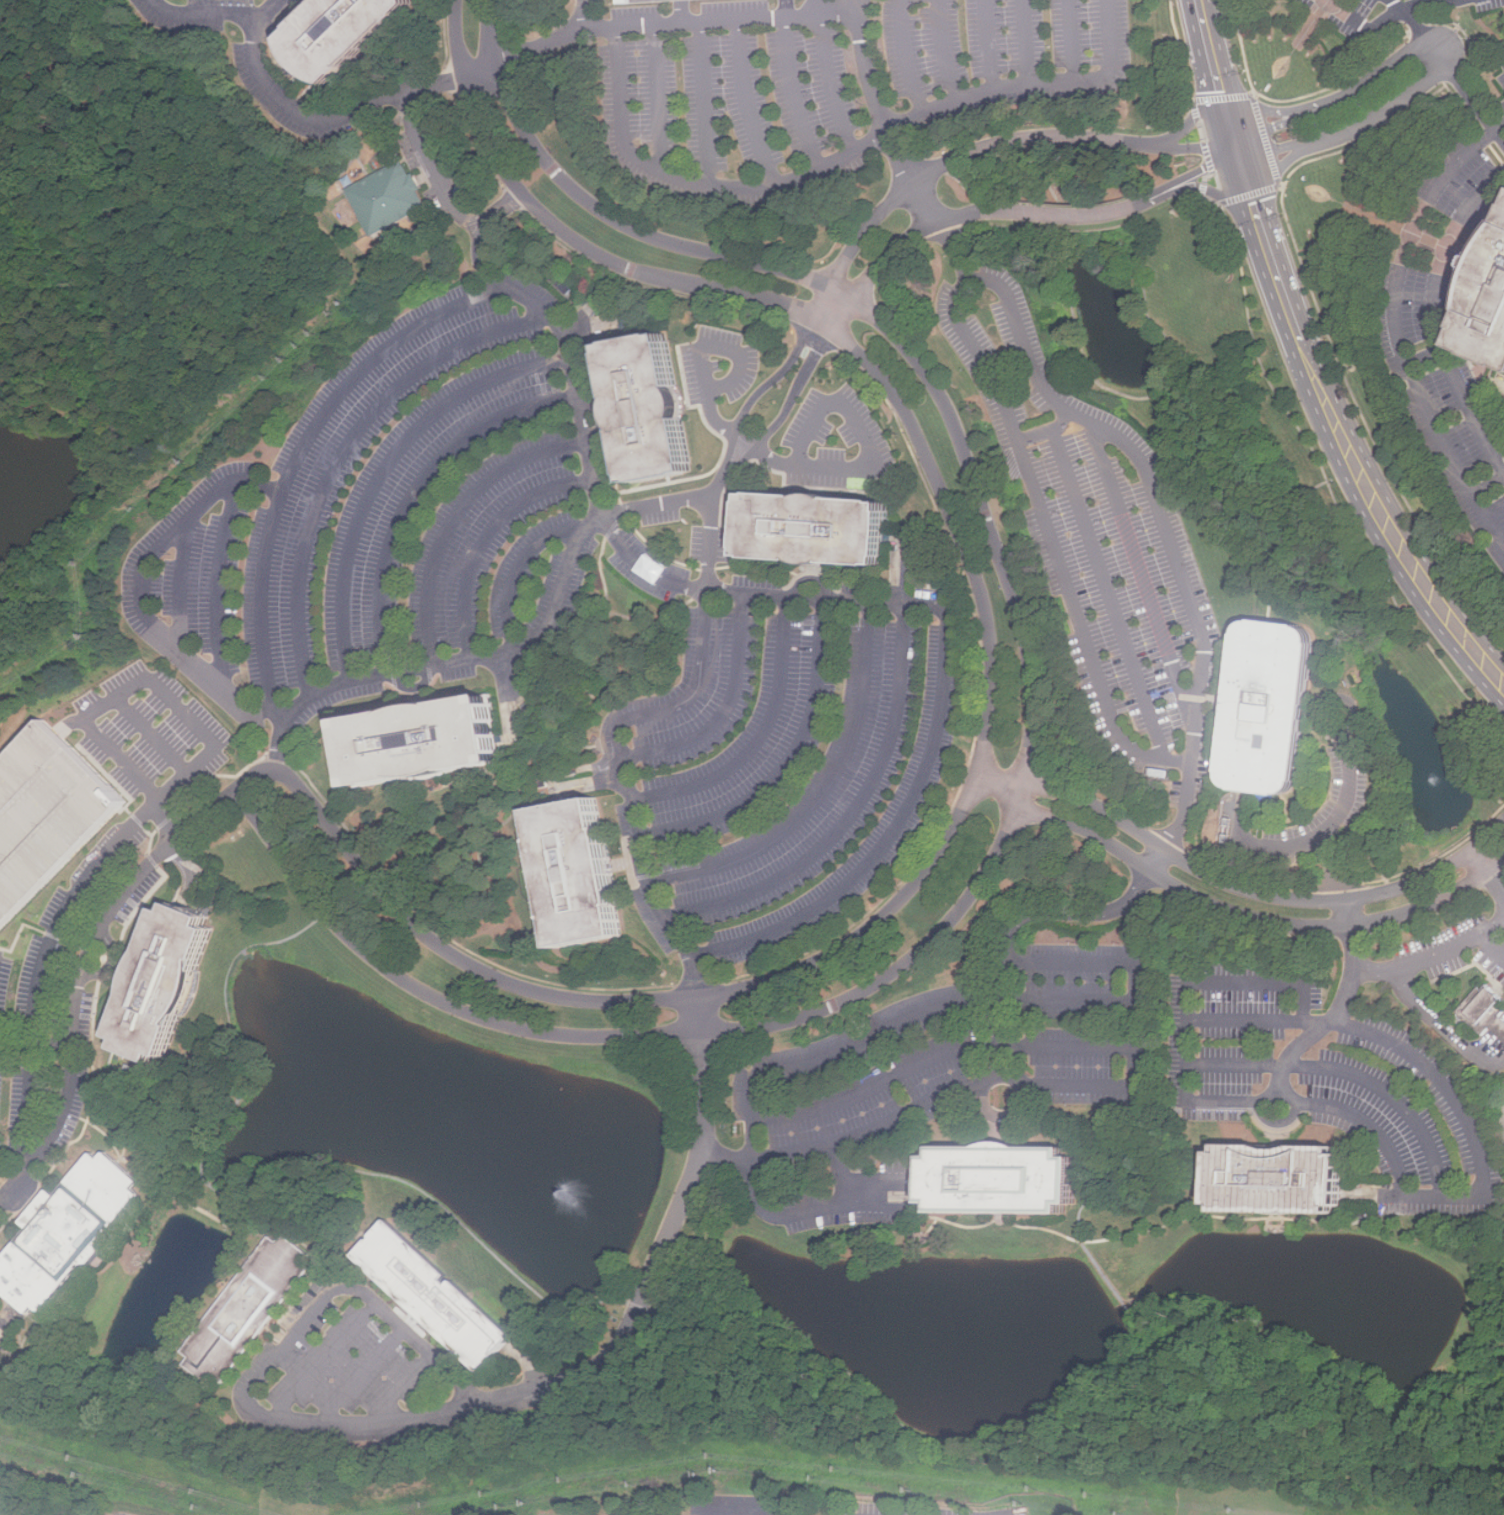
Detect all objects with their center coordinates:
building: (652, 1)
parking garage: (652, 1)
road: (1419, 2)
road: (787, 5)
road: (683, 9)
road: (581, 12)
road: (739, 13)
road: (201, 18)
road: (1415, 22)
road: (1365, 26)
building: (352, 35)
road: (544, 38)
road: (1075, 39)
road: (1025, 42)
road: (992, 45)
road: (945, 52)
road: (906, 55)
road: (833, 81)
road: (792, 89)
road: (1466, 90)
road: (658, 97)
road: (708, 98)
road: (748, 99)
road: (875, 100)
road: (1339, 101)
road: (1259, 105)
road: (321, 114)
road: (1189, 116)
traffic signals: (1234, 141)
road: (986, 149)
road: (844, 155)
traffic signals: (1239, 157)
road: (1283, 168)
road: (1248, 187)
road: (441, 188)
road: (1213, 194)
building: (389, 197)
road: (1134, 202)
road: (947, 231)
road: (482, 253)
building: (1484, 298)
road: (1013, 304)
river: (1114, 314)
road: (1434, 316)
road: (1396, 323)
road: (699, 343)
road: (389, 345)
road: (1425, 356)
building: (638, 407)
road: (1049, 430)
road: (348, 446)
road: (870, 448)
road: (388, 467)
road: (728, 468)
river: (39, 474)
road: (1489, 481)
road: (457, 518)
parking lot: (1102, 524)
building: (801, 528)
road: (1394, 535)
road: (488, 538)
road: (708, 541)
road: (523, 561)
road: (1139, 568)
road: (182, 582)
road: (220, 582)
road: (1108, 593)
road: (518, 647)
road: (163, 691)
road: (727, 709)
building: (1259, 709)
road: (275, 713)
road: (989, 719)
road: (73, 721)
river: (1414, 730)
road: (151, 733)
parking lot: (152, 733)
road: (760, 738)
building: (409, 741)
road: (1027, 755)
road: (1352, 773)
road: (626, 775)
road: (824, 792)
road: (850, 811)
building: (51, 816)
parking garage: (51, 816)
road: (889, 836)
road: (1288, 844)
building: (567, 873)
road: (1490, 874)
road: (1240, 888)
road: (1234, 909)
road: (1493, 949)
road: (1434, 956)
road: (113, 958)
road: (46, 962)
road: (84, 975)
building: (180, 985)
road: (1070, 999)
road: (1189, 1004)
building: (1486, 1011)
parking lot: (61, 1012)
road: (930, 1012)
road: (1248, 1020)
road: (1003, 1040)
road: (37, 1044)
road: (939, 1059)
road: (1350, 1073)
road: (1012, 1082)
river: (487, 1129)
road: (794, 1151)
road: (1395, 1162)
building: (1269, 1180)
building: (991, 1181)
road: (677, 1214)
building: (70, 1232)
building: (429, 1294)
building: (248, 1309)
river: (913, 1326)
road: (295, 1332)
river: (1373, 1356)
road: (318, 1360)
road: (358, 1376)
road: (400, 1387)

